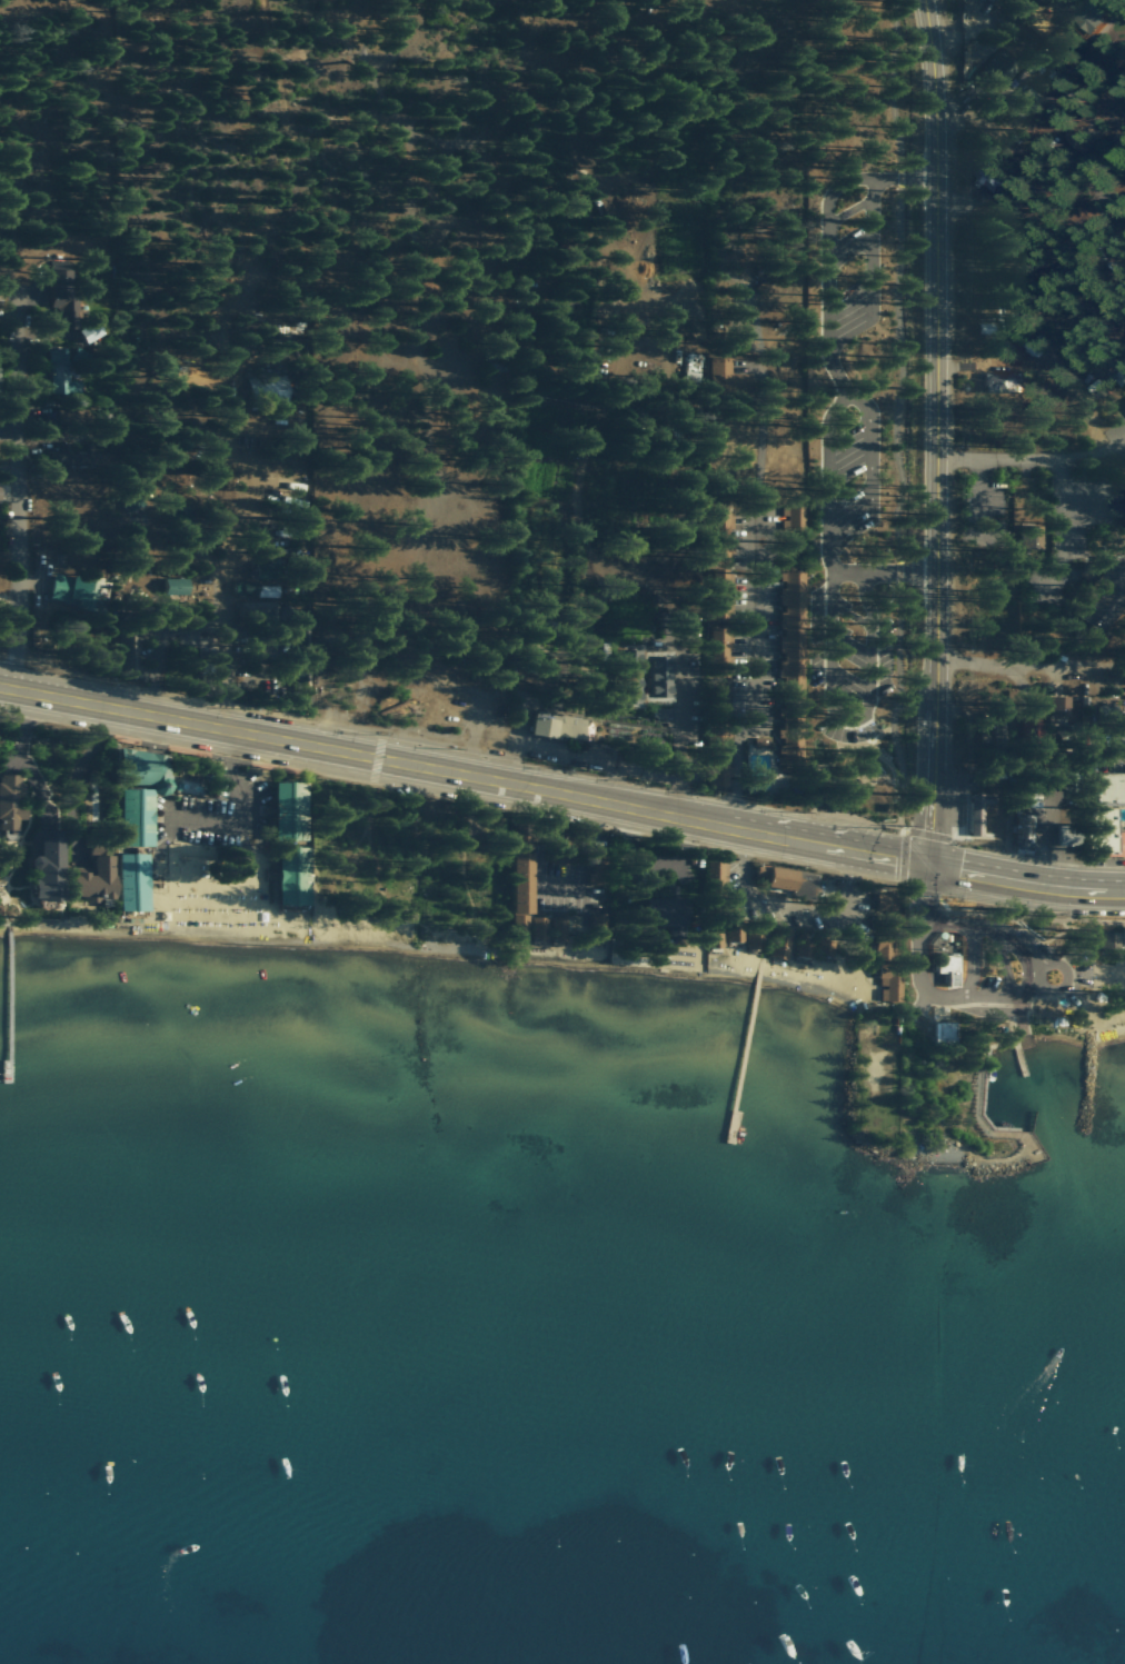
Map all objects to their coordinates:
building: (1099, 14)
building: (998, 69)
road: (104, 139)
road: (1035, 168)
building: (994, 177)
road: (873, 248)
building: (1, 295)
building: (69, 303)
road: (829, 335)
building: (62, 373)
building: (721, 373)
building: (1000, 382)
building: (270, 389)
road: (888, 417)
building: (293, 424)
road: (930, 432)
road: (870, 449)
building: (81, 457)
road: (996, 458)
road: (10, 488)
building: (0, 501)
road: (985, 502)
road: (1082, 502)
road: (1057, 505)
building: (795, 516)
building: (724, 537)
building: (1029, 537)
building: (1115, 560)
building: (268, 571)
road: (884, 572)
building: (176, 586)
building: (81, 590)
building: (1102, 604)
building: (793, 625)
road: (1029, 664)
road: (754, 670)
building: (660, 674)
building: (631, 677)
building: (1059, 706)
road: (853, 717)
building: (560, 726)
road: (1109, 751)
road: (20, 759)
building: (146, 769)
road: (465, 775)
building: (1109, 788)
building: (11, 801)
road: (241, 807)
building: (291, 811)
building: (977, 815)
building: (137, 818)
road: (903, 831)
building: (1023, 833)
building: (1107, 834)
road: (1048, 850)
traffic signals: (929, 866)
building: (49, 867)
building: (295, 877)
building: (96, 879)
building: (787, 879)
building: (133, 883)
road: (1026, 884)
building: (522, 891)
building: (887, 901)
building: (665, 911)
building: (539, 928)
building: (736, 936)
building: (1106, 941)
building: (783, 944)
building: (805, 947)
building: (885, 950)
building: (949, 967)
building: (890, 985)
pier: (8, 998)
park: (995, 1007)
building: (945, 1033)
pier: (1018, 1053)
pier: (741, 1058)

